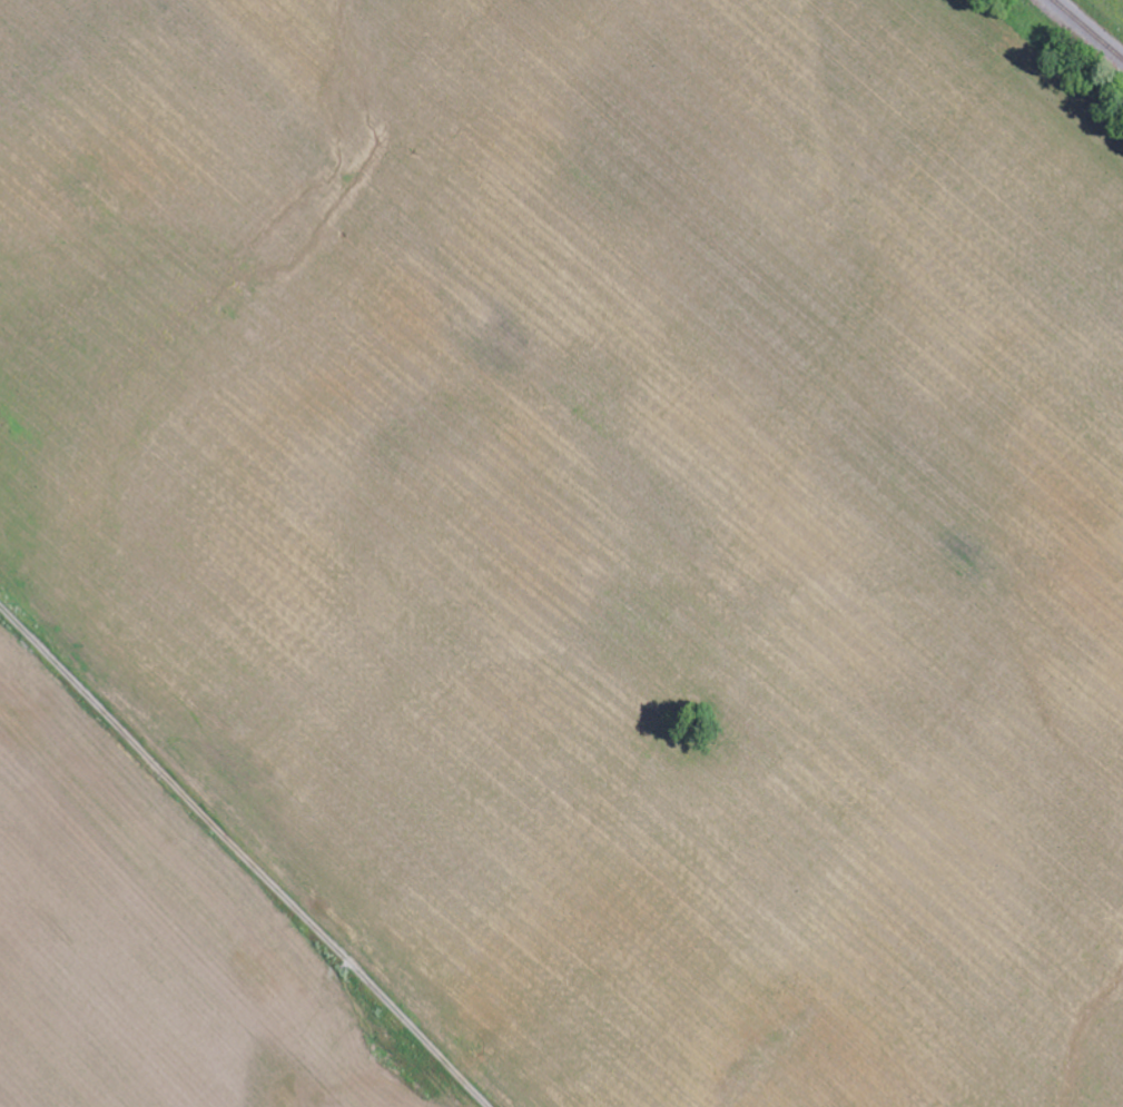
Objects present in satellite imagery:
railway: (1088, 28)

